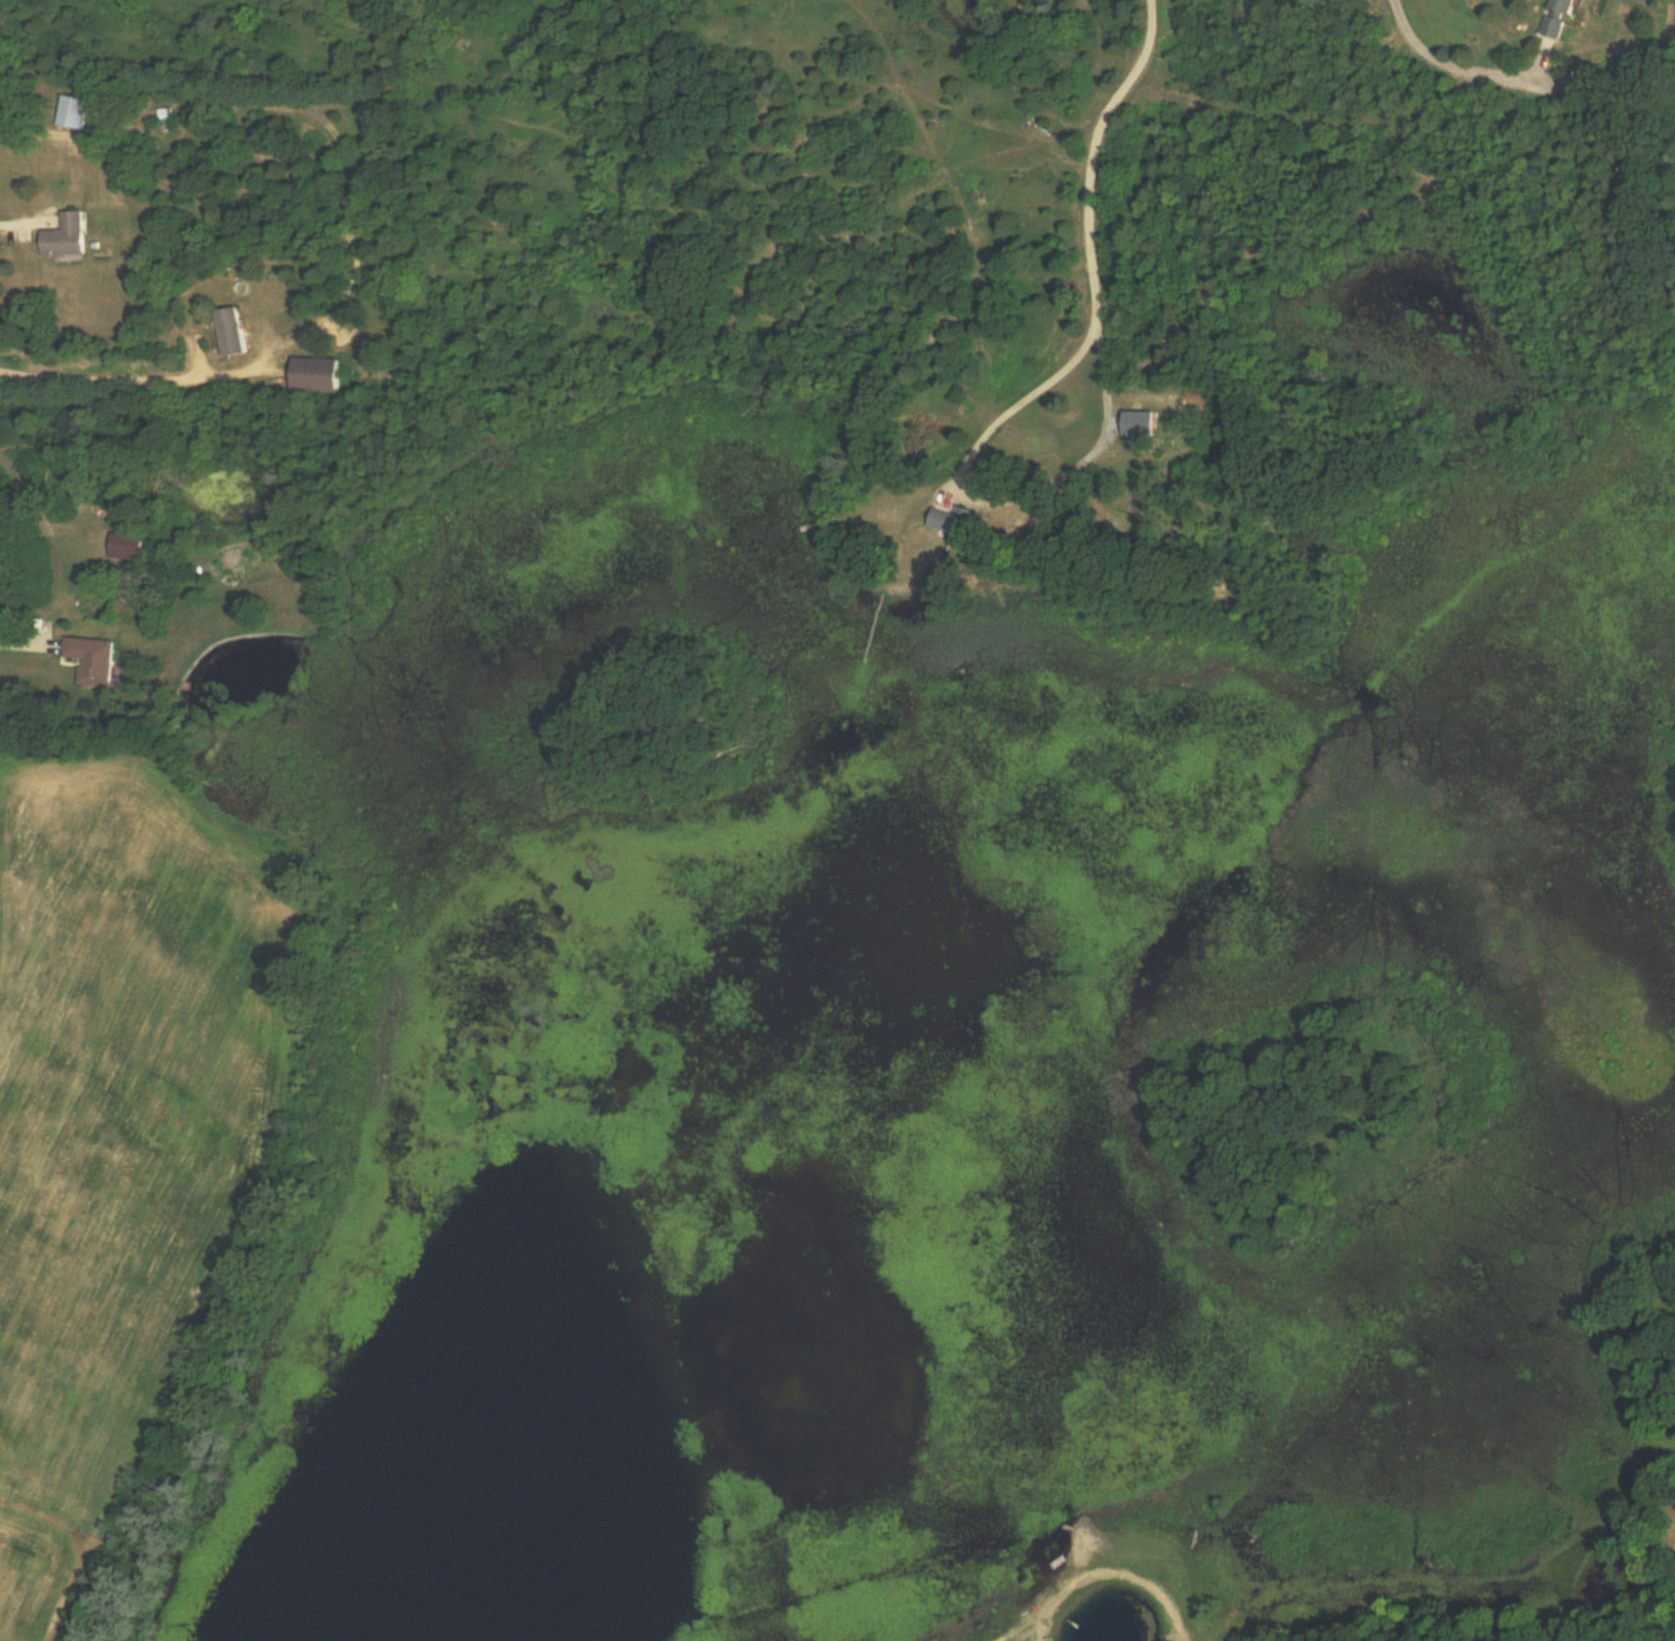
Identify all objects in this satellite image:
building: (1330, 0)
building: (1552, 19)
road: (1451, 64)
building: (69, 113)
road: (1091, 153)
building: (61, 237)
road: (344, 297)
building: (228, 331)
building: (314, 375)
building: (1134, 425)
road: (998, 491)
building: (951, 524)
building: (123, 547)
building: (89, 661)

